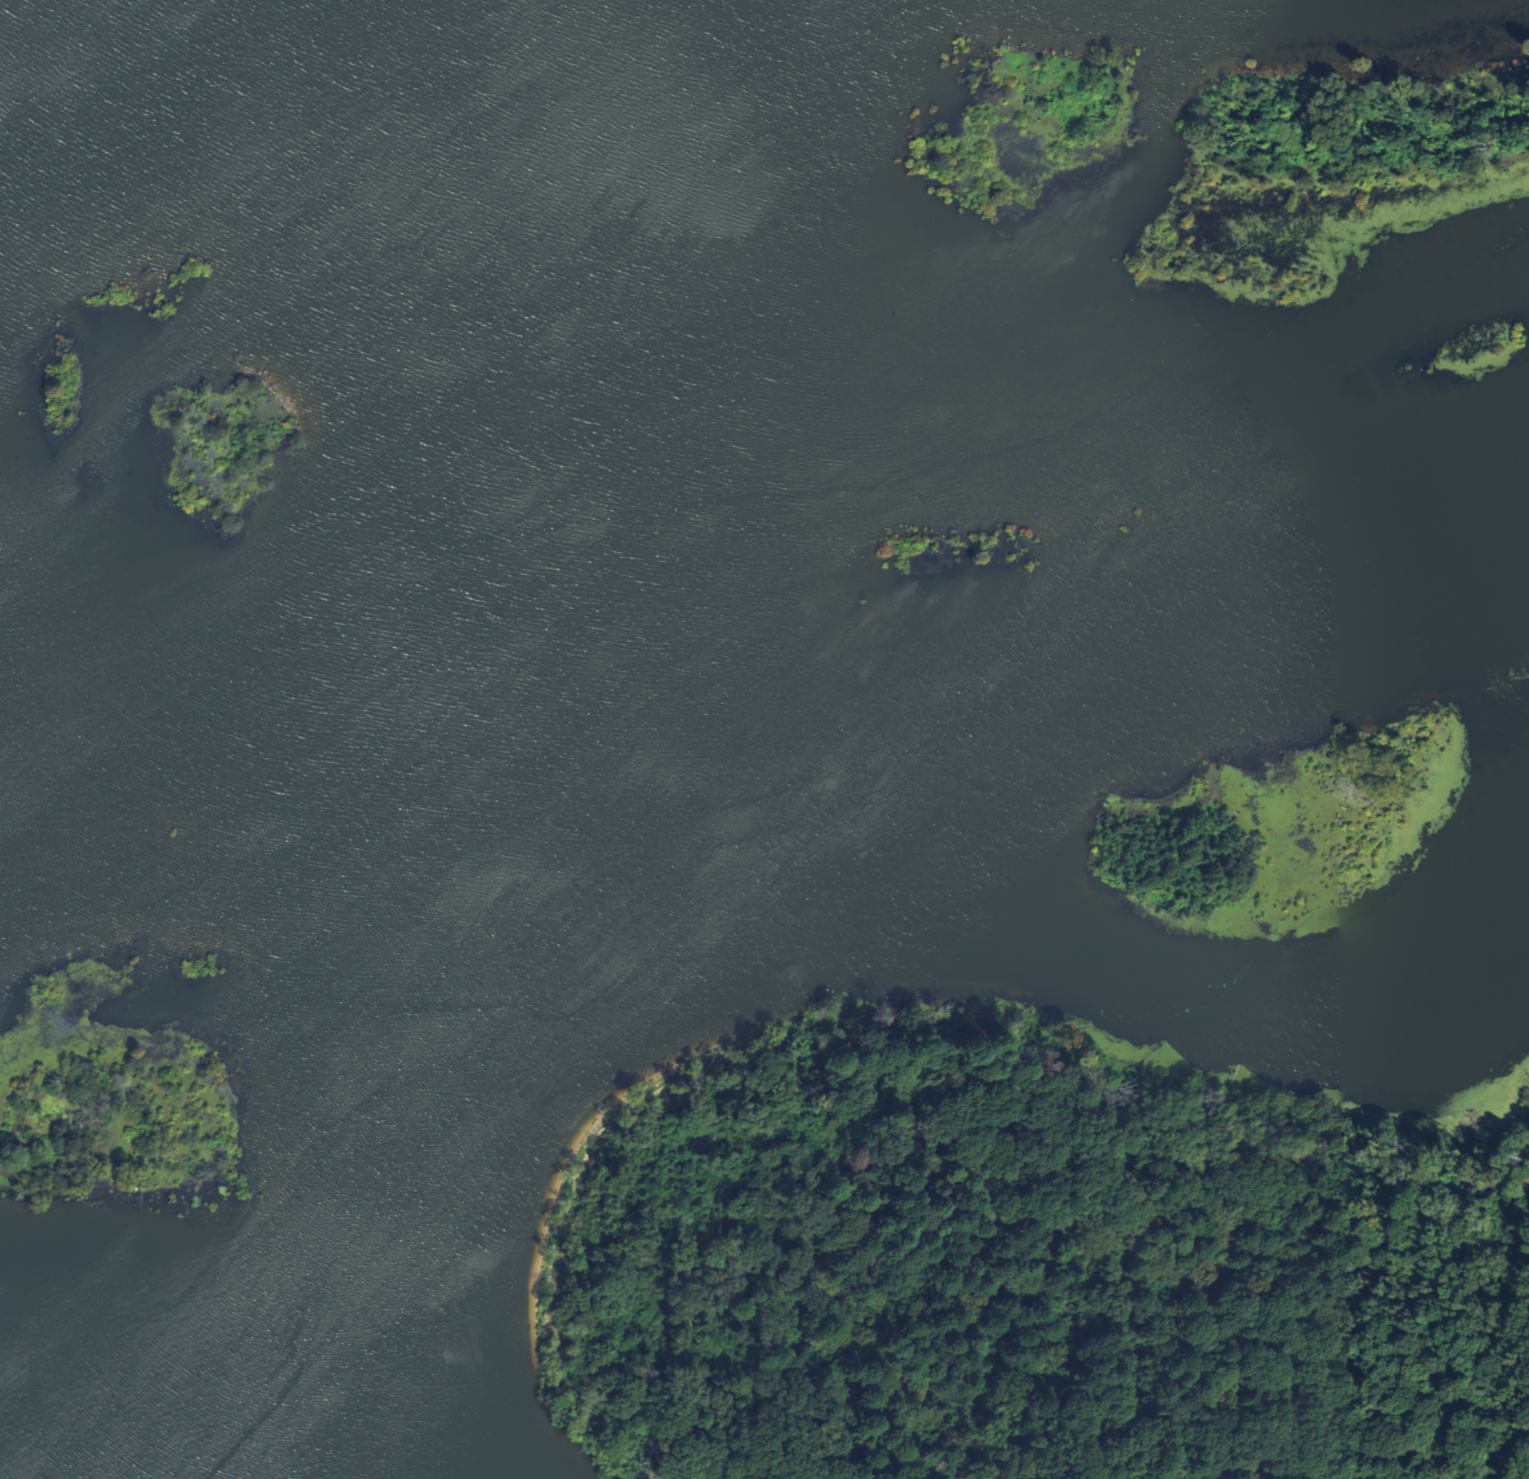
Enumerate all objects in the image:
river: (659, 757)

